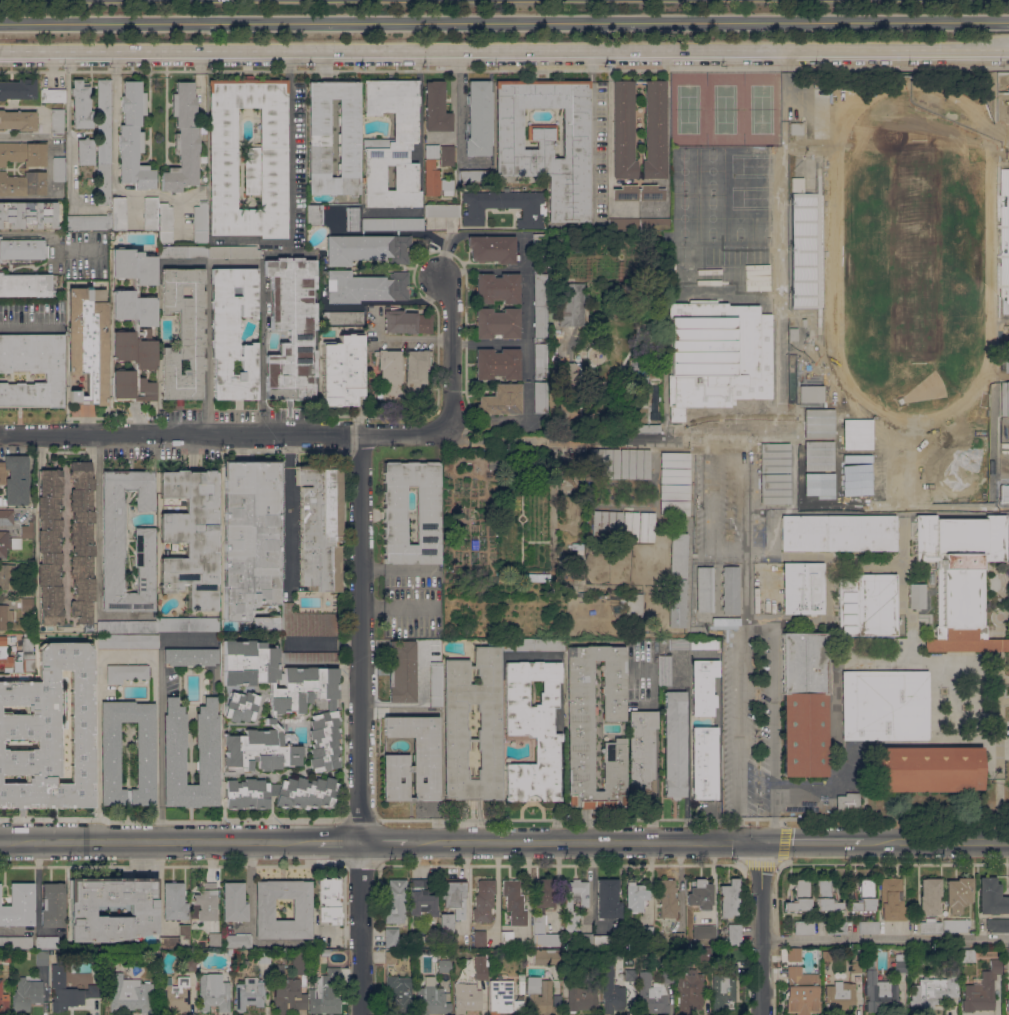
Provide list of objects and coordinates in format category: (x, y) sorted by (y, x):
road: (504, 50)
road: (504, 69)
building: (18, 89)
building: (53, 95)
park: (1008, 97)
building: (81, 104)
building: (436, 108)
park: (688, 110)
park: (724, 110)
park: (760, 110)
building: (479, 118)
building: (18, 120)
building: (58, 121)
building: (796, 129)
building: (623, 130)
building: (654, 130)
road: (592, 131)
building: (133, 138)
building: (184, 140)
building: (547, 141)
building: (103, 142)
building: (392, 144)
building: (319, 145)
building: (85, 151)
building: (23, 153)
building: (447, 155)
building: (249, 157)
building: (59, 163)
road: (113, 171)
road: (290, 171)
building: (435, 174)
building: (59, 175)
building: (475, 176)
building: (798, 183)
building: (23, 184)
park: (86, 186)
building: (626, 192)
building: (651, 193)
park: (707, 200)
building: (505, 206)
building: (442, 211)
building: (119, 213)
building: (150, 213)
building: (314, 214)
building: (28, 215)
building: (352, 219)
building: (89, 221)
building: (165, 223)
building: (200, 223)
building: (654, 223)
building: (392, 224)
building: (623, 224)
building: (602, 226)
building: (367, 249)
building: (492, 249)
road: (525, 249)
building: (539, 251)
park: (912, 251)
building: (22, 252)
building: (183, 252)
building: (233, 252)
road: (232, 262)
road: (481, 267)
building: (560, 267)
building: (25, 285)
building: (364, 287)
building: (496, 288)
building: (539, 288)
building: (571, 304)
building: (342, 318)
building: (407, 322)
building: (539, 322)
building: (804, 322)
building: (497, 323)
building: (132, 325)
road: (28, 328)
building: (291, 328)
building: (232, 332)
building: (183, 333)
building: (793, 334)
building: (88, 343)
road: (488, 343)
road: (451, 351)
building: (568, 355)
building: (717, 355)
building: (1007, 357)
building: (539, 360)
track: (984, 363)
building: (497, 364)
building: (643, 365)
building: (33, 369)
building: (342, 370)
building: (391, 373)
building: (414, 373)
park: (79, 381)
building: (640, 381)
building: (570, 392)
building: (811, 393)
building: (539, 397)
building: (626, 399)
building: (1005, 399)
building: (501, 400)
building: (657, 409)
road: (505, 423)
building: (623, 423)
building: (646, 428)
road: (224, 436)
road: (729, 438)
road: (579, 440)
park: (854, 452)
building: (775, 457)
building: (675, 460)
building: (604, 463)
building: (635, 463)
building: (675, 476)
building: (15, 479)
building: (775, 488)
building: (448, 491)
building: (674, 491)
road: (711, 493)
building: (1004, 493)
building: (0, 501)
building: (674, 508)
road: (842, 509)
road: (288, 510)
building: (395, 514)
building: (24, 516)
building: (6, 517)
building: (319, 525)
building: (607, 525)
building: (631, 526)
building: (646, 527)
building: (28, 530)
building: (838, 532)
building: (190, 536)
building: (249, 536)
building: (81, 541)
building: (15, 542)
building: (113, 542)
building: (4, 543)
building: (50, 547)
road: (98, 550)
building: (580, 552)
road: (727, 552)
road: (759, 552)
road: (832, 554)
building: (678, 555)
building: (571, 562)
road: (396, 567)
building: (6, 576)
building: (536, 577)
building: (932, 578)
building: (961, 578)
building: (803, 588)
building: (27, 589)
building: (704, 589)
building: (730, 590)
building: (917, 596)
building: (634, 603)
building: (677, 603)
building: (27, 604)
building: (867, 605)
road: (397, 606)
building: (5, 616)
road: (759, 618)
building: (307, 622)
building: (266, 623)
building: (188, 624)
building: (127, 626)
road: (740, 639)
building: (127, 640)
road: (323, 643)
building: (27, 644)
building: (534, 644)
building: (680, 644)
building: (704, 644)
building: (5, 654)
road: (126, 656)
building: (191, 657)
building: (309, 657)
building: (763, 657)
road: (923, 659)
building: (29, 662)
building: (402, 671)
building: (665, 671)
building: (126, 673)
building: (436, 684)
building: (703, 686)
road: (654, 687)
road: (998, 696)
building: (271, 703)
building: (803, 704)
building: (330, 705)
road: (773, 705)
building: (885, 705)
building: (241, 706)
road: (834, 706)
road: (968, 707)
road: (655, 719)
building: (490, 720)
road: (359, 725)
building: (580, 725)
building: (534, 730)
building: (49, 731)
building: (324, 741)
building: (675, 744)
road: (1003, 748)
building: (996, 750)
building: (642, 753)
building: (110, 755)
building: (413, 760)
building: (704, 763)
road: (990, 765)
building: (207, 766)
building: (928, 769)
building: (229, 772)
road: (655, 785)
building: (280, 793)
road: (998, 798)
road: (757, 799)
building: (848, 803)
road: (774, 816)
road: (692, 818)
road: (813, 841)
road: (936, 841)
road: (158, 842)
road: (338, 842)
road: (383, 842)
road: (584, 842)
road: (252, 886)
building: (700, 894)
building: (958, 894)
building: (635, 896)
building: (930, 896)
building: (454, 897)
building: (799, 897)
building: (864, 897)
building: (991, 897)
building: (667, 898)
building: (729, 898)
building: (826, 898)
building: (422, 899)
building: (608, 899)
building: (892, 899)
building: (175, 901)
building: (329, 901)
building: (396, 901)
building: (484, 901)
building: (568, 901)
building: (207, 902)
building: (234, 902)
building: (514, 903)
building: (19, 905)
building: (52, 905)
building: (264, 909)
building: (142, 910)
building: (543, 912)
building: (447, 923)
building: (955, 925)
building: (998, 925)
building: (930, 926)
building: (616, 927)
building: (803, 927)
building: (836, 927)
building: (869, 927)
road: (761, 928)
building: (184, 930)
building: (704, 931)
building: (648, 932)
building: (734, 935)
building: (391, 937)
building: (507, 938)
building: (677, 938)
building: (214, 939)
building: (480, 939)
building: (584, 939)
road: (885, 939)
building: (170, 941)
building: (237, 941)
building: (604, 941)
building: (16, 942)
building: (47, 942)
building: (325, 952)
building: (794, 954)
building: (870, 954)
building: (703, 955)
building: (967, 955)
building: (7, 956)
building: (391, 956)
building: (827, 956)
building: (1, 957)
building: (264, 957)
building: (547, 957)
building: (42, 958)
building: (954, 960)
building: (301, 961)
building: (856, 961)
building: (901, 963)
building: (190, 964)
building: (444, 965)
building: (480, 967)
building: (10, 975)
building: (630, 975)
building: (666, 976)
building: (534, 985)
building: (1008, 986)
building: (522, 987)
building: (723, 987)
building: (1005, 987)
building: (611, 990)
building: (982, 990)
building: (68, 991)
building: (325, 991)
building: (689, 991)
building: (802, 991)
building: (879, 991)
building: (935, 991)
building: (214, 992)
building: (177, 993)
building: (250, 993)
building: (401, 993)
building: (27, 994)
building: (130, 994)
building: (651, 994)
building: (288, 995)
building: (839, 996)
building: (504, 997)
building: (3, 998)
building: (467, 998)
building: (581, 998)
building: (431, 999)
building: (545, 1001)
building: (1007, 1005)

